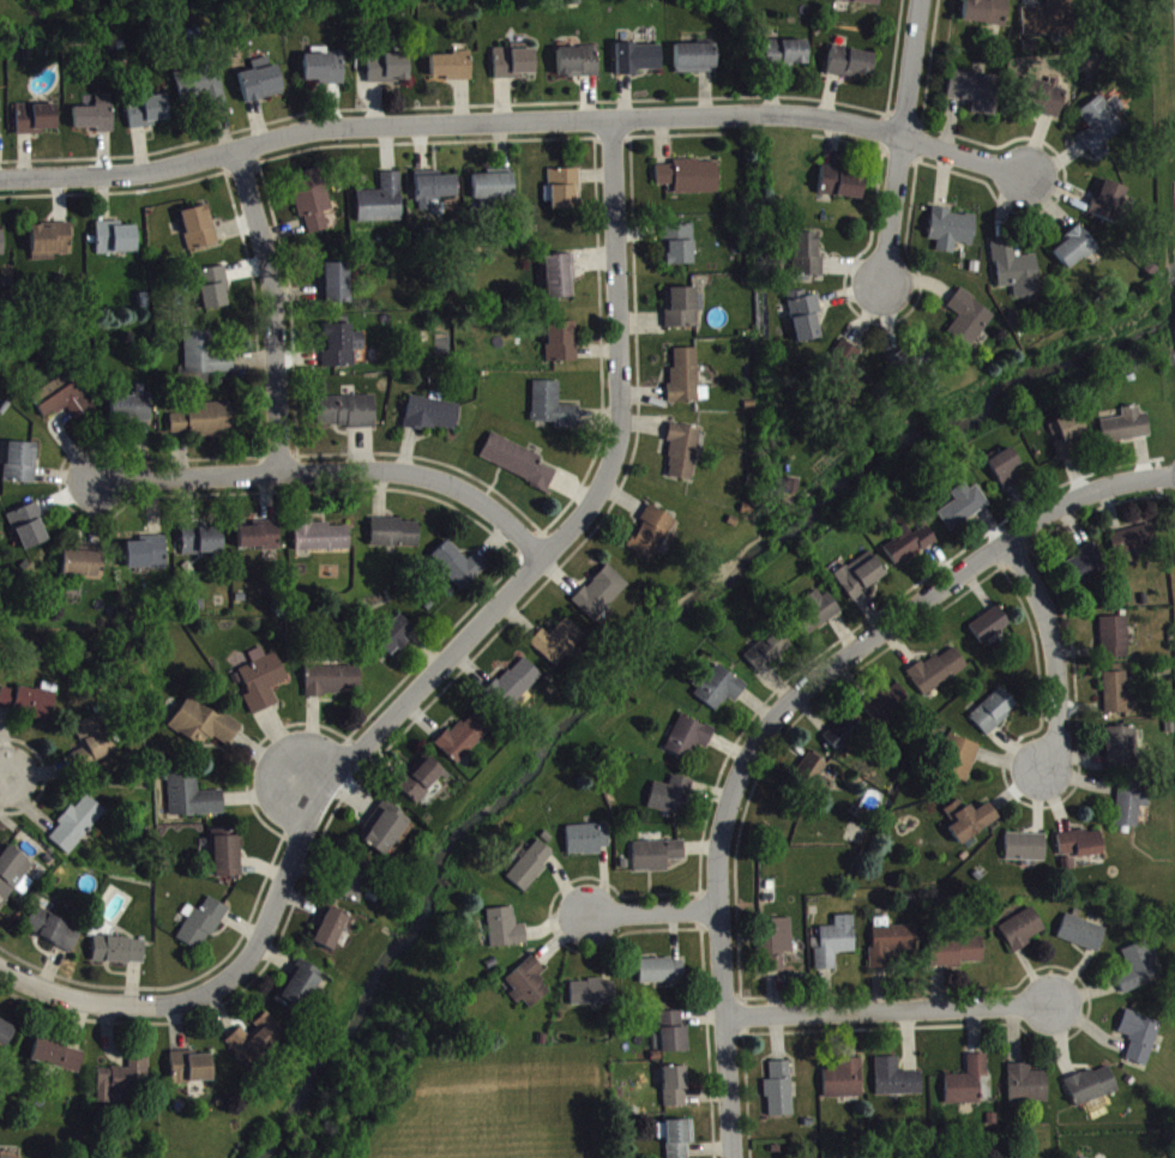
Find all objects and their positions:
building: (858, 4)
building: (986, 16)
building: (1050, 22)
building: (785, 58)
building: (638, 64)
building: (694, 64)
building: (578, 66)
building: (514, 67)
building: (850, 67)
building: (453, 71)
building: (390, 72)
building: (325, 73)
building: (263, 85)
building: (201, 94)
building: (975, 96)
building: (1042, 101)
building: (147, 116)
road: (513, 119)
building: (97, 120)
building: (37, 123)
building: (0, 126)
building: (1101, 129)
road: (897, 144)
building: (689, 182)
building: (839, 188)
building: (493, 192)
building: (565, 193)
building: (435, 194)
building: (313, 204)
building: (382, 205)
building: (1107, 205)
building: (200, 231)
building: (951, 234)
building: (117, 243)
building: (52, 246)
building: (1, 247)
building: (679, 249)
building: (1074, 253)
building: (806, 260)
building: (1016, 275)
building: (559, 281)
building: (337, 289)
building: (213, 292)
road: (273, 307)
building: (681, 312)
building: (805, 320)
building: (968, 322)
building: (562, 346)
building: (342, 350)
building: (207, 358)
building: (849, 374)
building: (686, 381)
building: (62, 403)
building: (553, 411)
building: (132, 412)
building: (348, 416)
building: (433, 420)
building: (205, 426)
building: (1127, 432)
building: (1071, 441)
building: (682, 457)
building: (517, 466)
building: (23, 468)
road: (331, 469)
building: (1006, 474)
road: (1098, 477)
road: (1167, 477)
building: (964, 511)
road: (1016, 526)
building: (31, 531)
building: (396, 538)
building: (650, 538)
building: (260, 541)
building: (324, 542)
building: (203, 544)
building: (1137, 548)
building: (909, 549)
building: (147, 559)
building: (84, 568)
building: (458, 569)
building: (1087, 571)
building: (861, 580)
building: (601, 598)
road: (484, 609)
building: (817, 615)
building: (992, 629)
road: (876, 633)
building: (394, 639)
building: (1116, 643)
building: (558, 647)
building: (769, 655)
road: (1057, 659)
building: (940, 675)
building: (263, 684)
building: (333, 684)
building: (518, 686)
building: (721, 693)
building: (1120, 699)
building: (29, 707)
building: (888, 708)
building: (995, 716)
building: (204, 729)
building: (845, 738)
building: (464, 741)
building: (689, 742)
building: (95, 744)
building: (1122, 752)
building: (960, 762)
building: (813, 773)
building: (420, 784)
road: (5, 785)
building: (192, 800)
building: (671, 801)
building: (1132, 807)
building: (970, 825)
building: (78, 828)
building: (382, 833)
building: (587, 844)
building: (1081, 849)
building: (1026, 852)
building: (227, 860)
building: (658, 861)
building: (531, 870)
building: (13, 880)
building: (352, 885)
road: (651, 911)
building: (201, 929)
building: (330, 933)
building: (54, 934)
building: (506, 934)
building: (1023, 934)
building: (1083, 939)
building: (892, 946)
building: (837, 947)
building: (779, 948)
building: (119, 955)
building: (957, 957)
building: (1139, 971)
building: (663, 976)
building: (530, 988)
building: (297, 994)
road: (72, 996)
building: (595, 997)
road: (894, 1014)
road: (727, 1032)
building: (675, 1037)
building: (5, 1038)
building: (1141, 1042)
building: (255, 1045)
building: (58, 1060)
building: (192, 1073)
building: (844, 1084)
building: (897, 1084)
building: (123, 1086)
building: (968, 1087)
building: (1028, 1090)
building: (1093, 1091)
building: (676, 1092)
building: (781, 1094)
building: (677, 1140)

